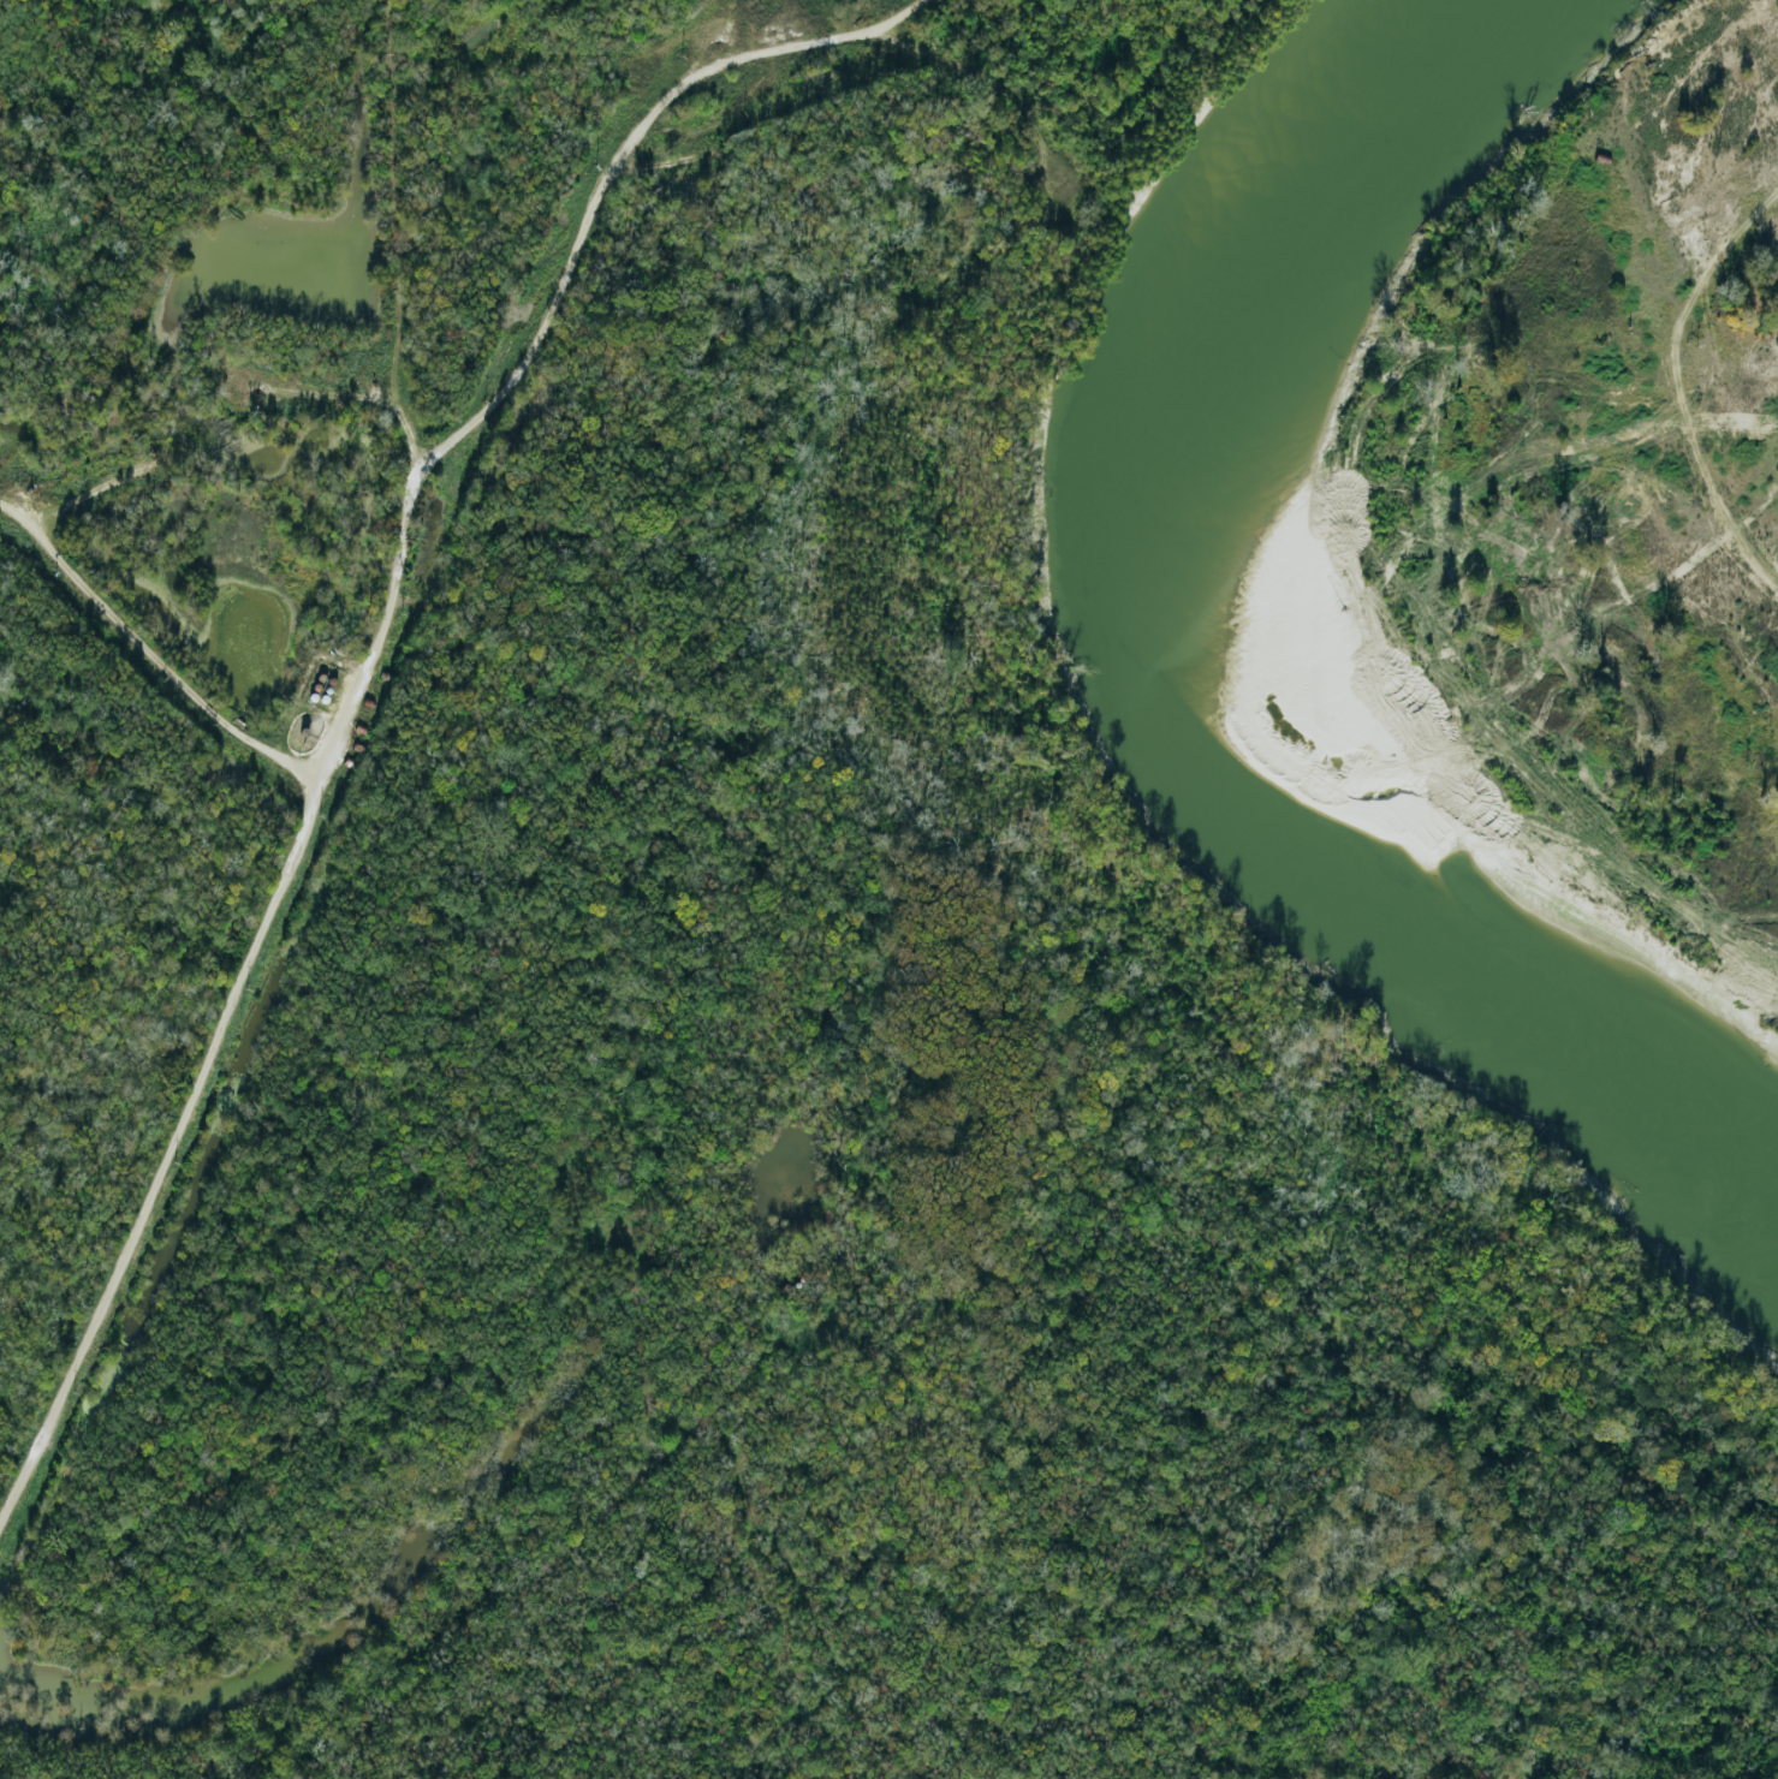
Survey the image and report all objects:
river: (1220, 671)
road: (298, 805)

